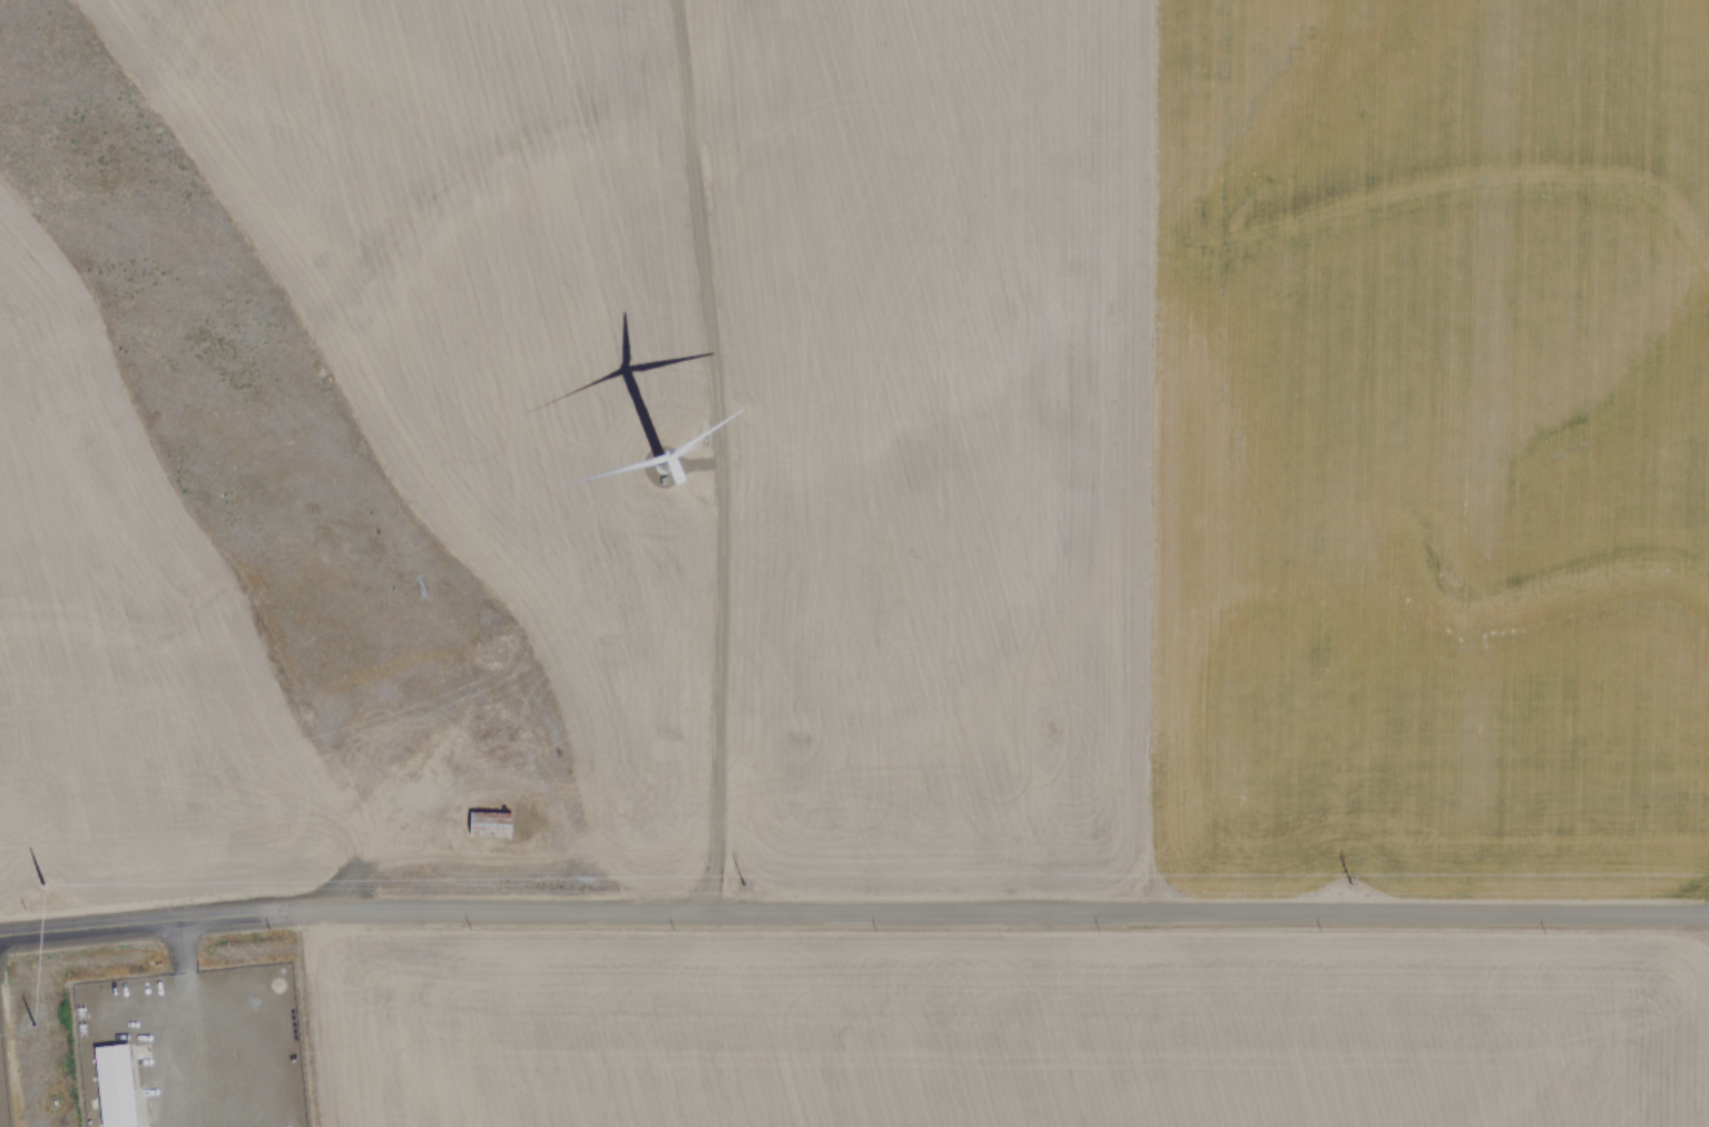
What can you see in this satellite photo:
road: (720, 454)
wind turbine: (652, 457)
road: (996, 911)
road: (143, 920)
road: (188, 1017)
building: (116, 1082)
power substation: (2, 1091)

